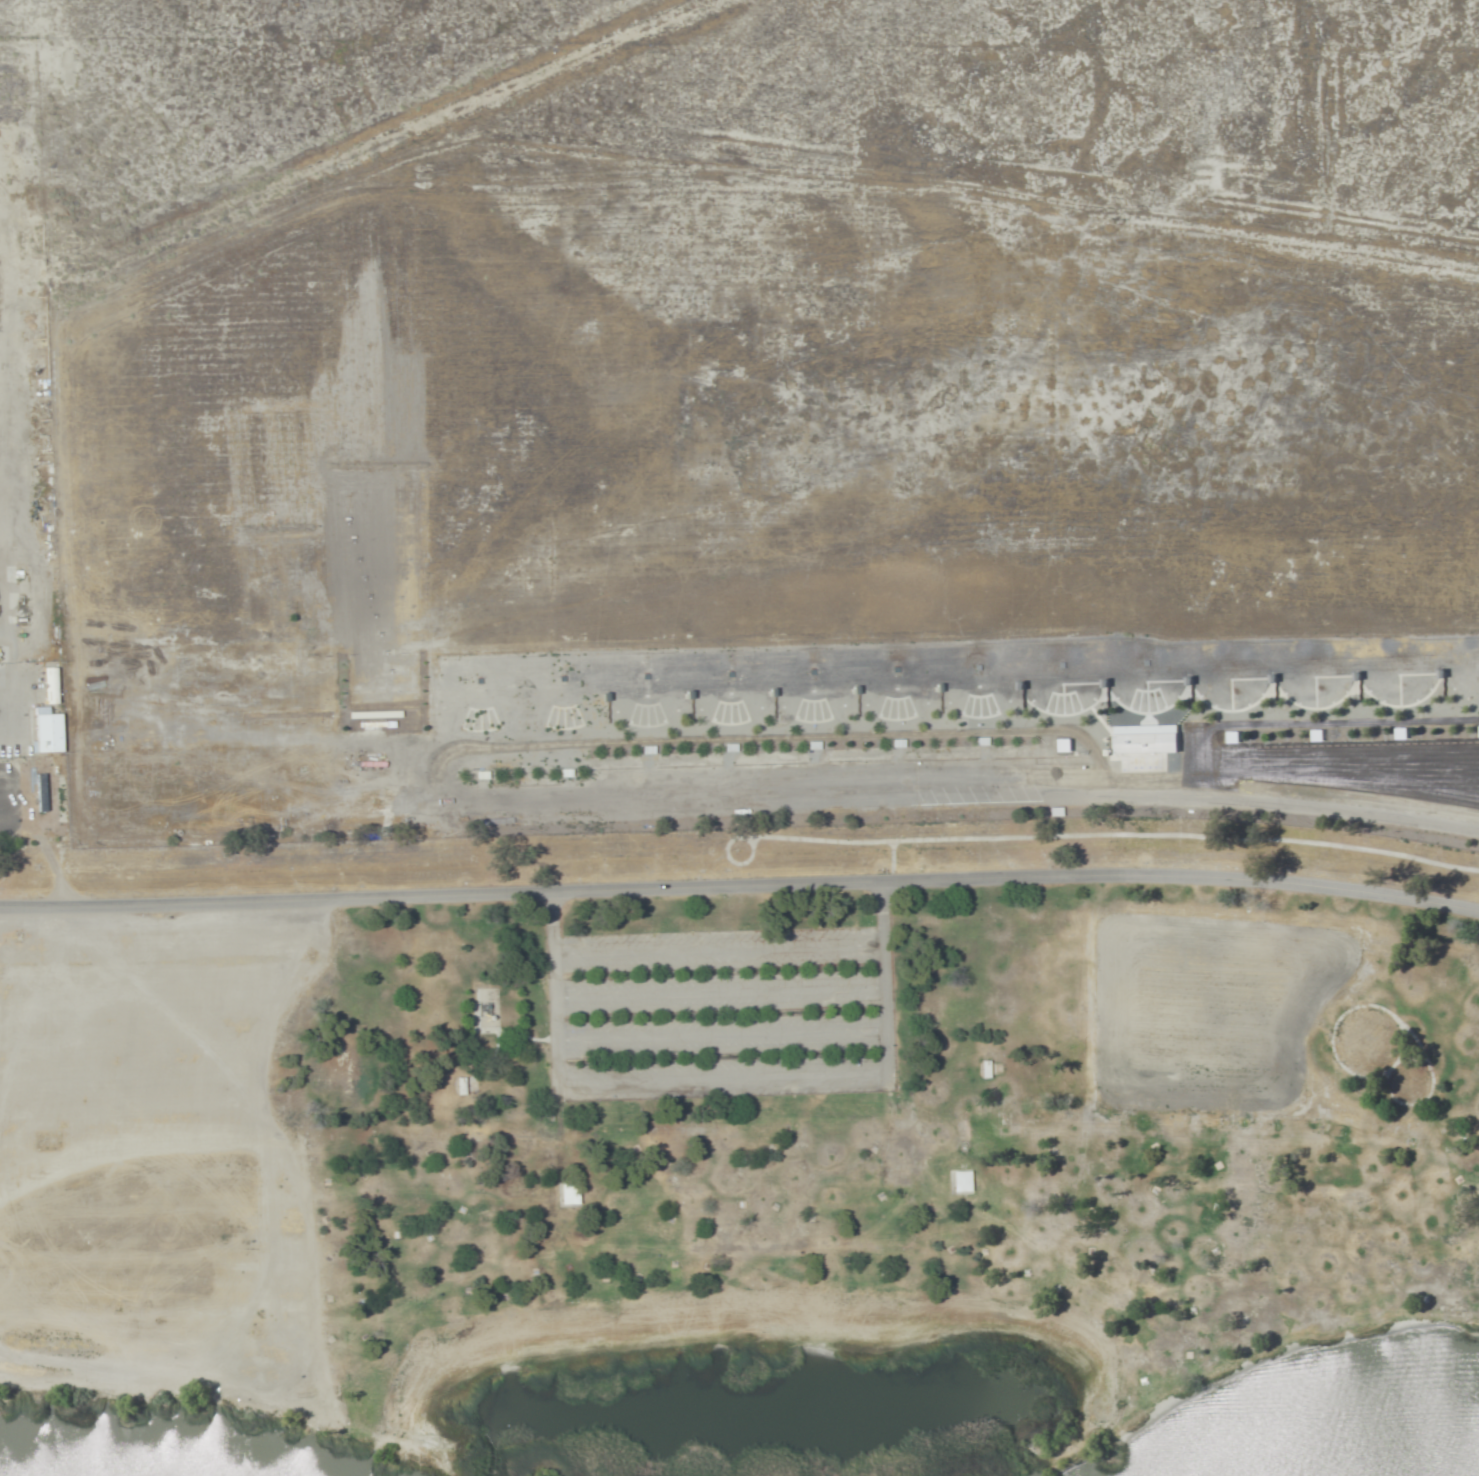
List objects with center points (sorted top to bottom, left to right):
road: (11, 731)
building: (48, 733)
building: (1146, 739)
road: (896, 796)
road: (740, 885)
road: (718, 950)
road: (723, 992)
parking lot: (723, 1013)
road: (726, 1037)
road: (731, 1080)
building: (461, 1086)
building: (960, 1182)
building: (569, 1194)

